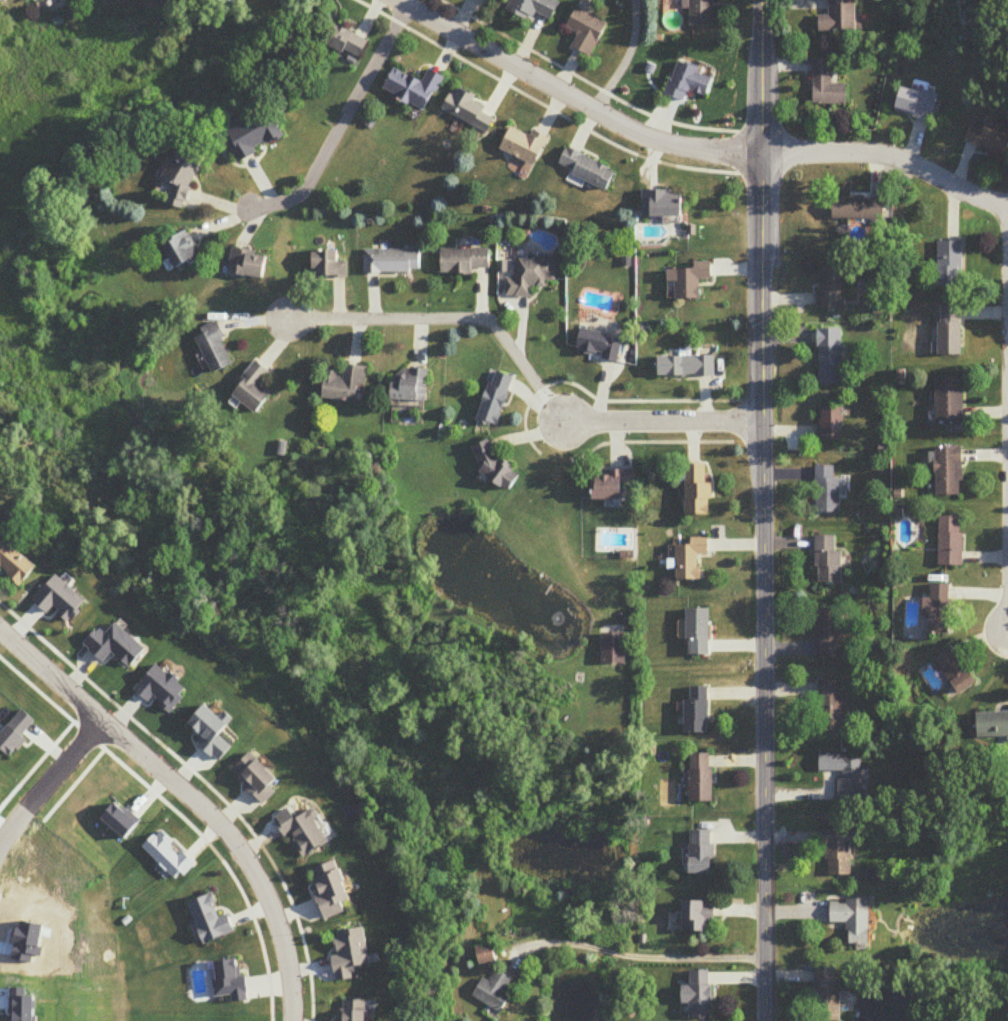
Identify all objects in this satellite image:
building: (534, 8)
building: (702, 13)
building: (840, 18)
building: (586, 31)
building: (348, 42)
road: (615, 74)
building: (688, 82)
building: (827, 86)
building: (415, 88)
road: (597, 88)
building: (917, 105)
building: (469, 110)
road: (552, 112)
road: (341, 123)
building: (256, 134)
building: (989, 138)
building: (524, 140)
road: (690, 145)
building: (587, 164)
building: (183, 175)
building: (664, 203)
building: (859, 208)
building: (184, 251)
building: (464, 254)
building: (390, 255)
building: (325, 260)
building: (251, 262)
building: (951, 263)
building: (531, 276)
building: (690, 280)
building: (833, 289)
road: (452, 319)
building: (951, 330)
building: (600, 346)
building: (215, 348)
building: (829, 356)
building: (686, 366)
building: (346, 385)
building: (411, 385)
building: (254, 388)
building: (496, 399)
building: (950, 399)
road: (614, 402)
road: (664, 422)
building: (833, 423)
road: (694, 442)
road: (655, 443)
road: (616, 445)
building: (950, 471)
building: (614, 485)
building: (827, 489)
building: (698, 491)
road: (762, 510)
building: (952, 541)
building: (691, 559)
building: (828, 560)
building: (16, 564)
building: (940, 610)
building: (699, 632)
building: (829, 633)
building: (614, 649)
building: (958, 671)
road: (39, 690)
road: (116, 704)
building: (830, 706)
building: (698, 712)
building: (993, 724)
building: (258, 776)
building: (844, 776)
building: (702, 778)
road: (49, 781)
road: (190, 798)
building: (305, 831)
building: (702, 852)
building: (839, 852)
building: (332, 889)
building: (700, 916)
building: (854, 920)
building: (486, 954)
road: (644, 956)
building: (495, 991)
building: (700, 995)
building: (829, 995)
building: (355, 1010)

